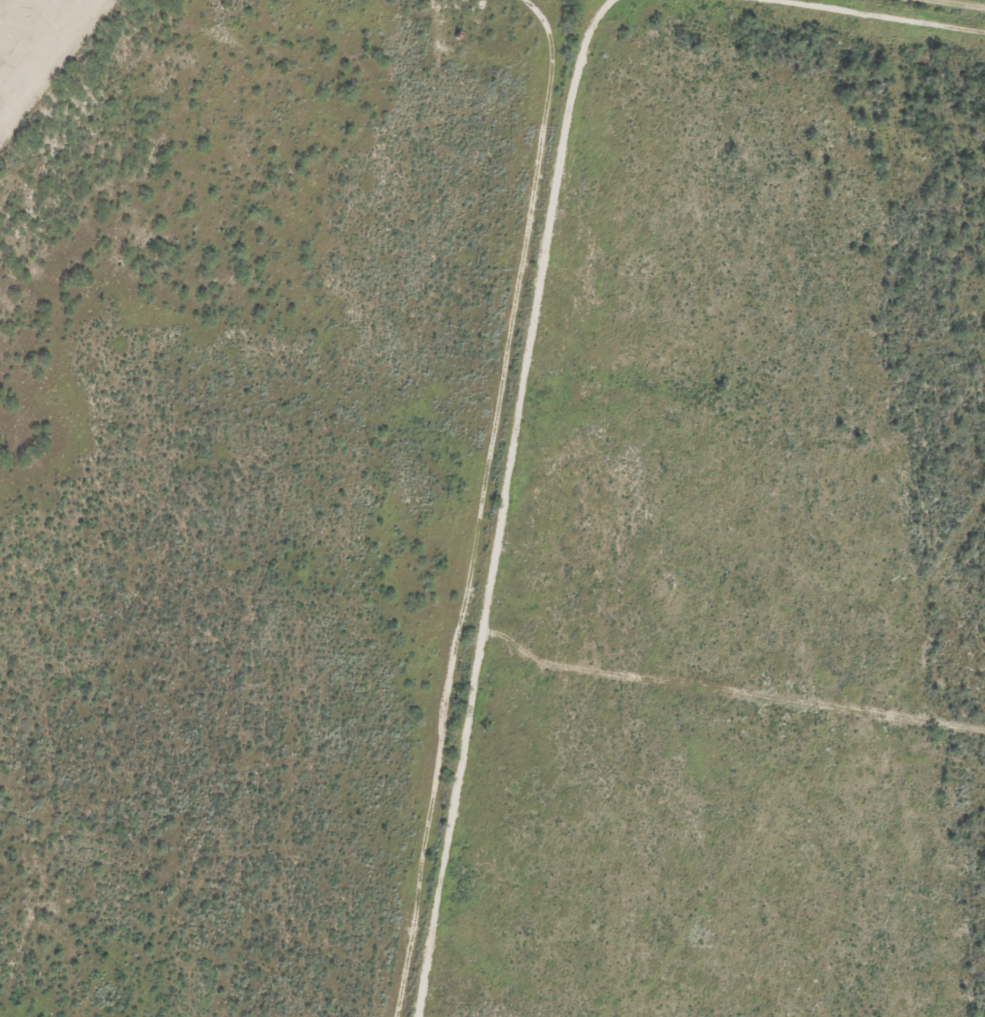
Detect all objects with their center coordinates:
road: (895, 14)
road: (508, 508)

